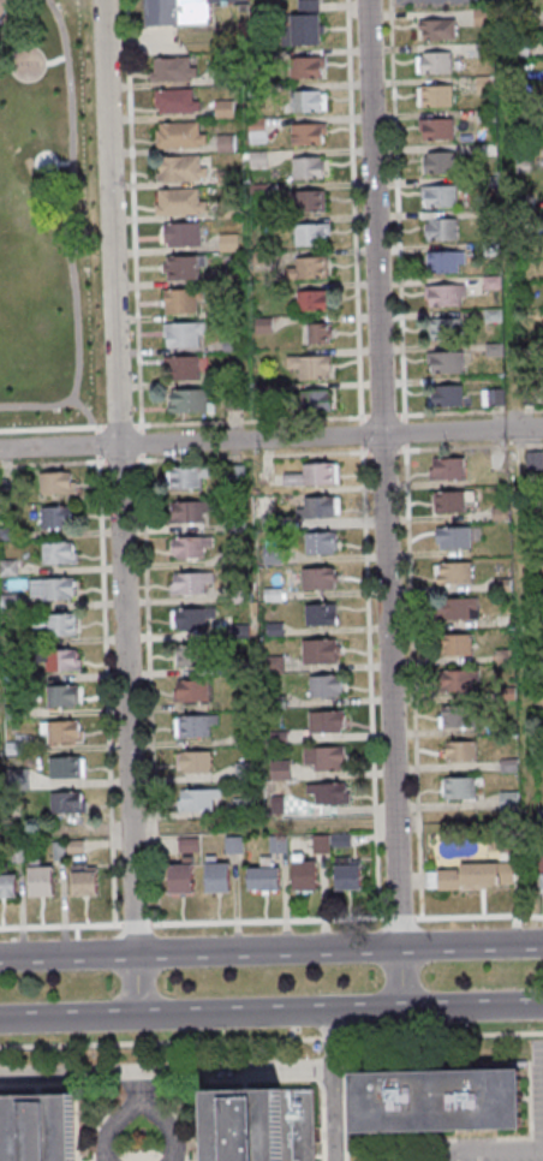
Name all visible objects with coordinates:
parking lot: (432, 2)
building: (185, 11)
building: (479, 17)
building: (303, 23)
building: (432, 29)
building: (482, 49)
building: (518, 49)
building: (432, 62)
building: (304, 67)
building: (169, 70)
building: (220, 76)
building: (482, 85)
building: (253, 91)
building: (434, 96)
building: (173, 101)
building: (304, 102)
building: (221, 109)
building: (483, 115)
building: (434, 129)
building: (255, 130)
building: (305, 133)
building: (177, 135)
building: (223, 144)
building: (484, 150)
building: (255, 159)
building: (434, 162)
building: (521, 166)
building: (178, 168)
building: (305, 168)
building: (222, 178)
building: (485, 183)
building: (256, 191)
building: (436, 196)
building: (303, 200)
building: (520, 202)
building: (177, 203)
building: (223, 210)
building: (487, 215)
park: (44, 219)
building: (438, 230)
building: (309, 233)
building: (179, 234)
building: (226, 243)
building: (488, 249)
building: (258, 257)
building: (441, 262)
building: (178, 268)
building: (306, 268)
building: (227, 276)
building: (489, 282)
building: (441, 294)
building: (311, 300)
building: (179, 302)
building: (228, 311)
building: (490, 315)
building: (261, 326)
building: (441, 329)
building: (180, 333)
building: (315, 334)
building: (228, 345)
building: (490, 350)
building: (442, 362)
building: (308, 367)
building: (178, 368)
building: (263, 392)
building: (444, 395)
building: (527, 395)
building: (490, 398)
building: (186, 401)
building: (231, 401)
building: (309, 401)
road: (512, 403)
road: (270, 437)
building: (531, 460)
building: (444, 469)
building: (232, 474)
building: (184, 476)
building: (309, 476)
building: (53, 483)
building: (448, 500)
road: (383, 504)
road: (123, 507)
building: (314, 507)
building: (184, 511)
building: (497, 513)
building: (53, 517)
building: (267, 522)
building: (233, 525)
building: (7, 534)
building: (450, 537)
building: (317, 543)
building: (187, 547)
building: (537, 549)
building: (55, 553)
building: (268, 555)
building: (235, 560)
building: (6, 567)
building: (450, 572)
building: (316, 578)
building: (187, 583)
building: (499, 585)
building: (49, 589)
building: (270, 595)
building: (237, 596)
building: (537, 600)
building: (8, 603)
building: (454, 608)
building: (317, 614)
building: (190, 618)
building: (54, 624)
building: (237, 631)
building: (271, 631)
building: (452, 644)
building: (317, 651)
building: (187, 655)
building: (502, 656)
building: (538, 656)
building: (56, 660)
building: (271, 665)
building: (239, 668)
building: (453, 680)
building: (322, 685)
building: (189, 691)
building: (59, 696)
building: (273, 702)
building: (10, 712)
building: (457, 716)
building: (322, 721)
building: (192, 726)
building: (59, 732)
building: (275, 738)
building: (240, 739)
building: (12, 749)
building: (458, 752)
building: (321, 758)
building: (191, 762)
building: (537, 762)
building: (506, 764)
building: (62, 768)
building: (278, 770)
building: (241, 773)
building: (14, 779)
building: (460, 787)
building: (326, 794)
building: (193, 799)
building: (506, 802)
building: (65, 803)
building: (274, 805)
building: (241, 808)
building: (339, 840)
building: (506, 843)
building: (275, 844)
building: (317, 844)
building: (185, 845)
building: (231, 845)
building: (72, 847)
building: (56, 851)
building: (14, 852)
building: (541, 862)
building: (300, 874)
building: (344, 875)
building: (213, 876)
building: (178, 877)
building: (261, 877)
building: (473, 877)
building: (37, 880)
building: (82, 881)
building: (541, 881)
building: (6, 886)
road: (270, 919)
road: (471, 945)
road: (198, 952)
road: (270, 1011)
road: (329, 1038)
road: (271, 1040)
road: (165, 1071)
road: (136, 1085)
parking lot: (536, 1090)
road: (137, 1101)
building: (438, 1101)
road: (330, 1114)
building: (264, 1125)
building: (44, 1129)
road: (487, 1148)

